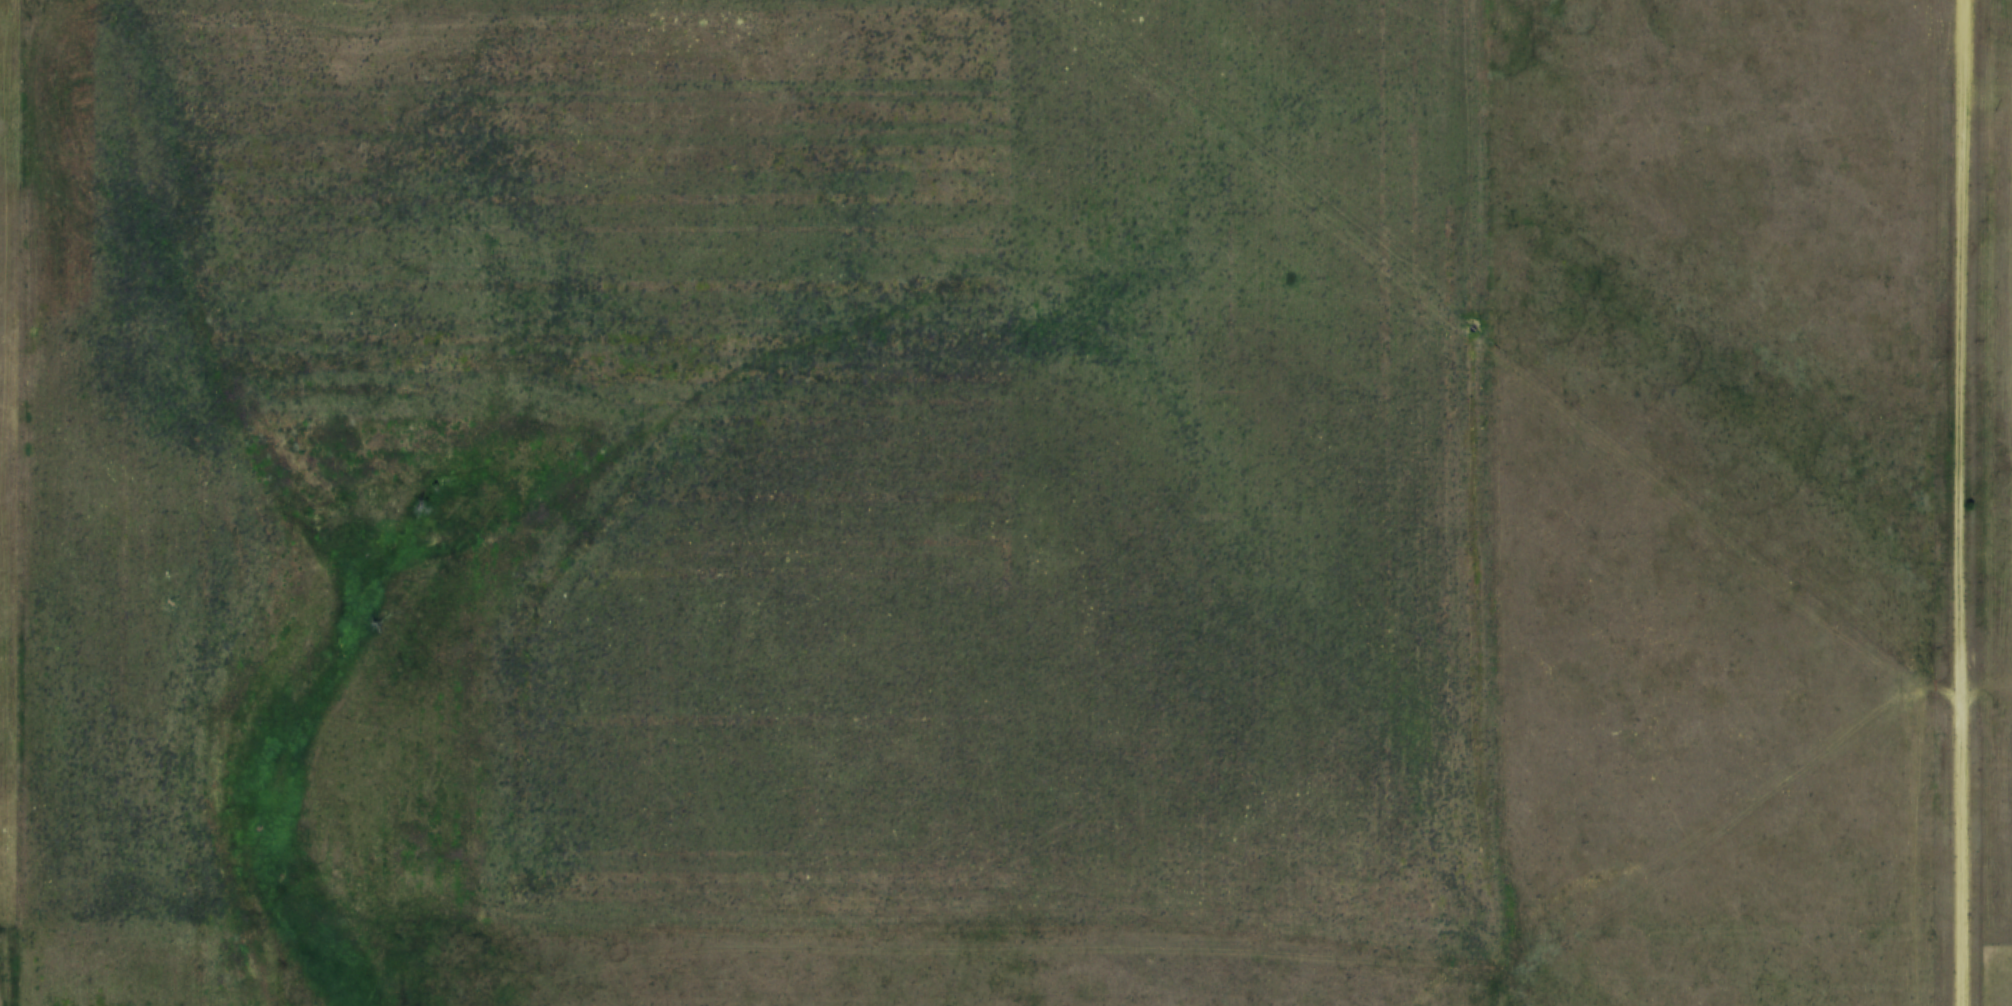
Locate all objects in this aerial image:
road: (1957, 502)
road: (5, 970)

